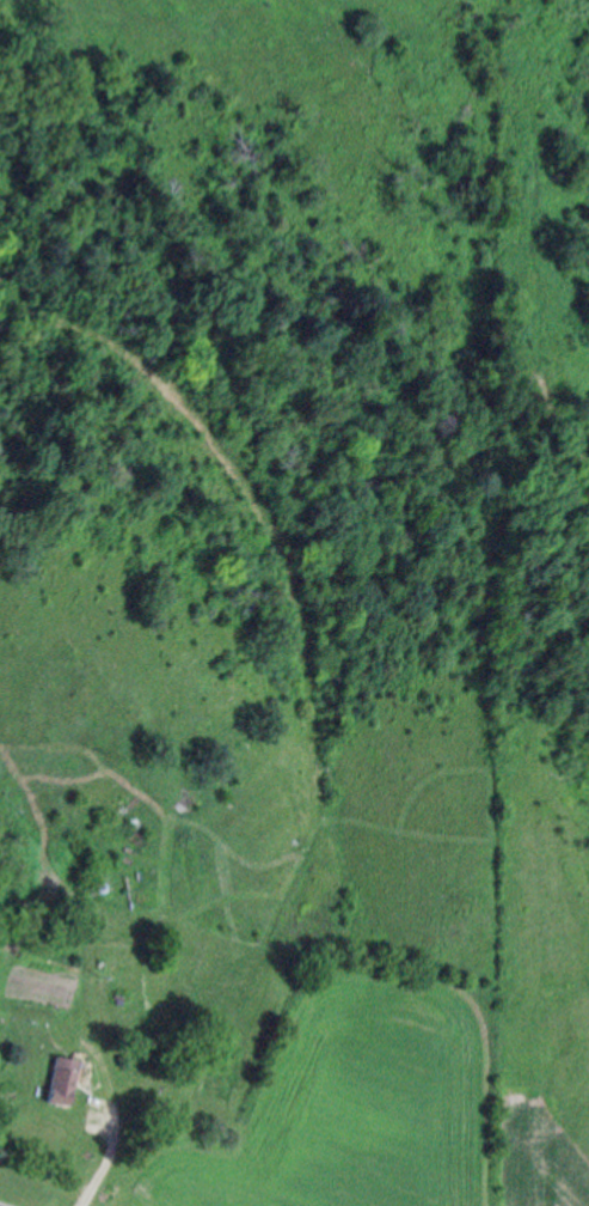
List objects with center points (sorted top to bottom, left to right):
building: (60, 1083)
road: (116, 1119)

